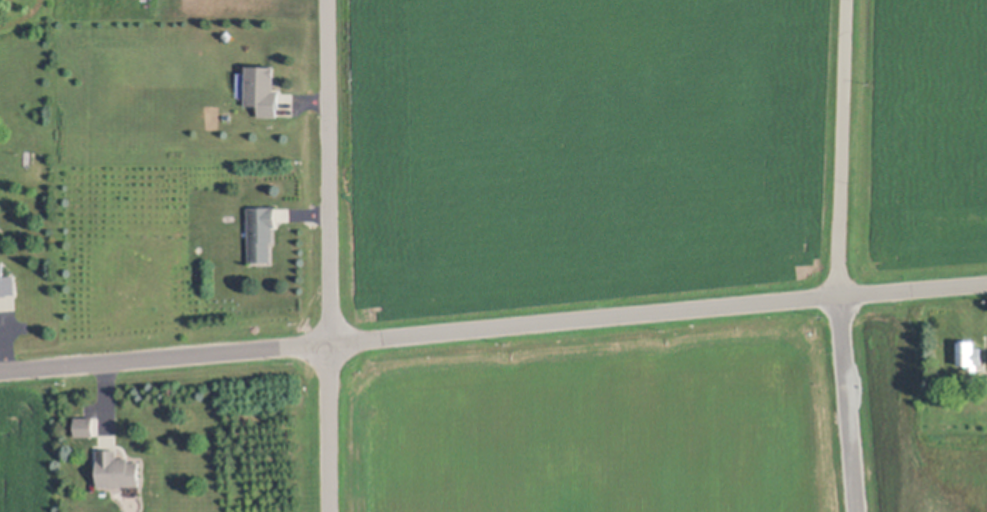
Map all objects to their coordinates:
building: (264, 88)
road: (841, 147)
building: (81, 152)
building: (263, 231)
road: (330, 255)
building: (7, 282)
road: (493, 327)
building: (970, 352)
building: (972, 385)
road: (846, 403)
building: (86, 425)
building: (120, 468)

